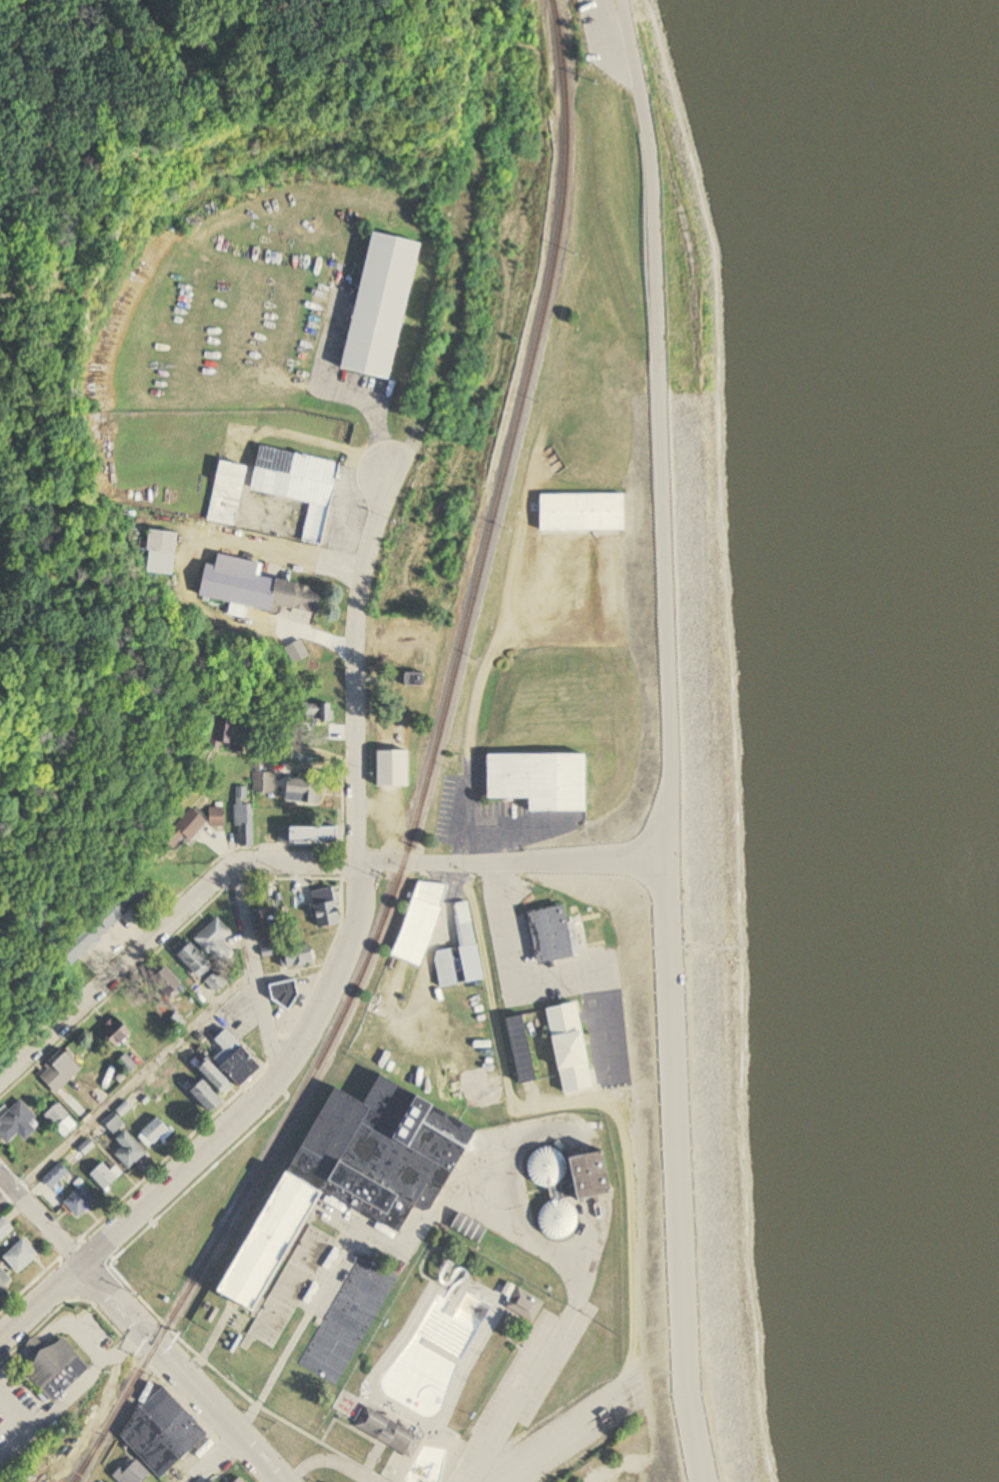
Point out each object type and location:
parking lot: (606, 38)
road: (19, 238)
river: (919, 278)
building: (81, 285)
road: (41, 304)
building: (379, 304)
road: (447, 349)
park: (58, 444)
building: (294, 479)
building: (223, 491)
building: (581, 511)
road: (277, 549)
building: (159, 551)
building: (257, 588)
building: (298, 652)
road: (356, 665)
building: (416, 679)
building: (317, 711)
building: (223, 732)
road: (744, 734)
road: (683, 739)
building: (390, 765)
railway: (427, 775)
building: (542, 779)
building: (263, 780)
building: (304, 790)
building: (243, 816)
building: (194, 825)
building: (310, 834)
road: (519, 861)
building: (125, 904)
building: (327, 907)
building: (420, 922)
road: (161, 928)
building: (553, 933)
building: (216, 941)
building: (82, 945)
building: (461, 952)
building: (299, 956)
building: (196, 960)
road: (511, 970)
road: (253, 974)
building: (170, 982)
building: (217, 982)
building: (282, 994)
park: (22, 1012)
building: (118, 1031)
building: (572, 1048)
building: (523, 1050)
building: (238, 1059)
building: (61, 1063)
building: (127, 1064)
building: (218, 1076)
building: (89, 1086)
road: (126, 1089)
road: (265, 1091)
building: (208, 1096)
building: (57, 1116)
building: (16, 1121)
building: (113, 1122)
building: (155, 1131)
road: (628, 1151)
building: (131, 1154)
building: (547, 1167)
building: (599, 1175)
building: (56, 1176)
building: (105, 1177)
building: (351, 1189)
building: (80, 1202)
building: (559, 1219)
road: (42, 1220)
building: (4, 1229)
building: (21, 1257)
road: (575, 1267)
road: (333, 1268)
building: (4, 1280)
building: (367, 1290)
building: (526, 1305)
road: (42, 1307)
road: (78, 1328)
road: (209, 1343)
building: (321, 1364)
building: (59, 1370)
road: (184, 1374)
road: (73, 1394)
road: (16, 1411)
building: (396, 1418)
building: (389, 1432)
building: (162, 1433)
railway: (87, 1459)
road: (215, 1459)
road: (326, 1460)
building: (131, 1471)
building: (239, 1480)

